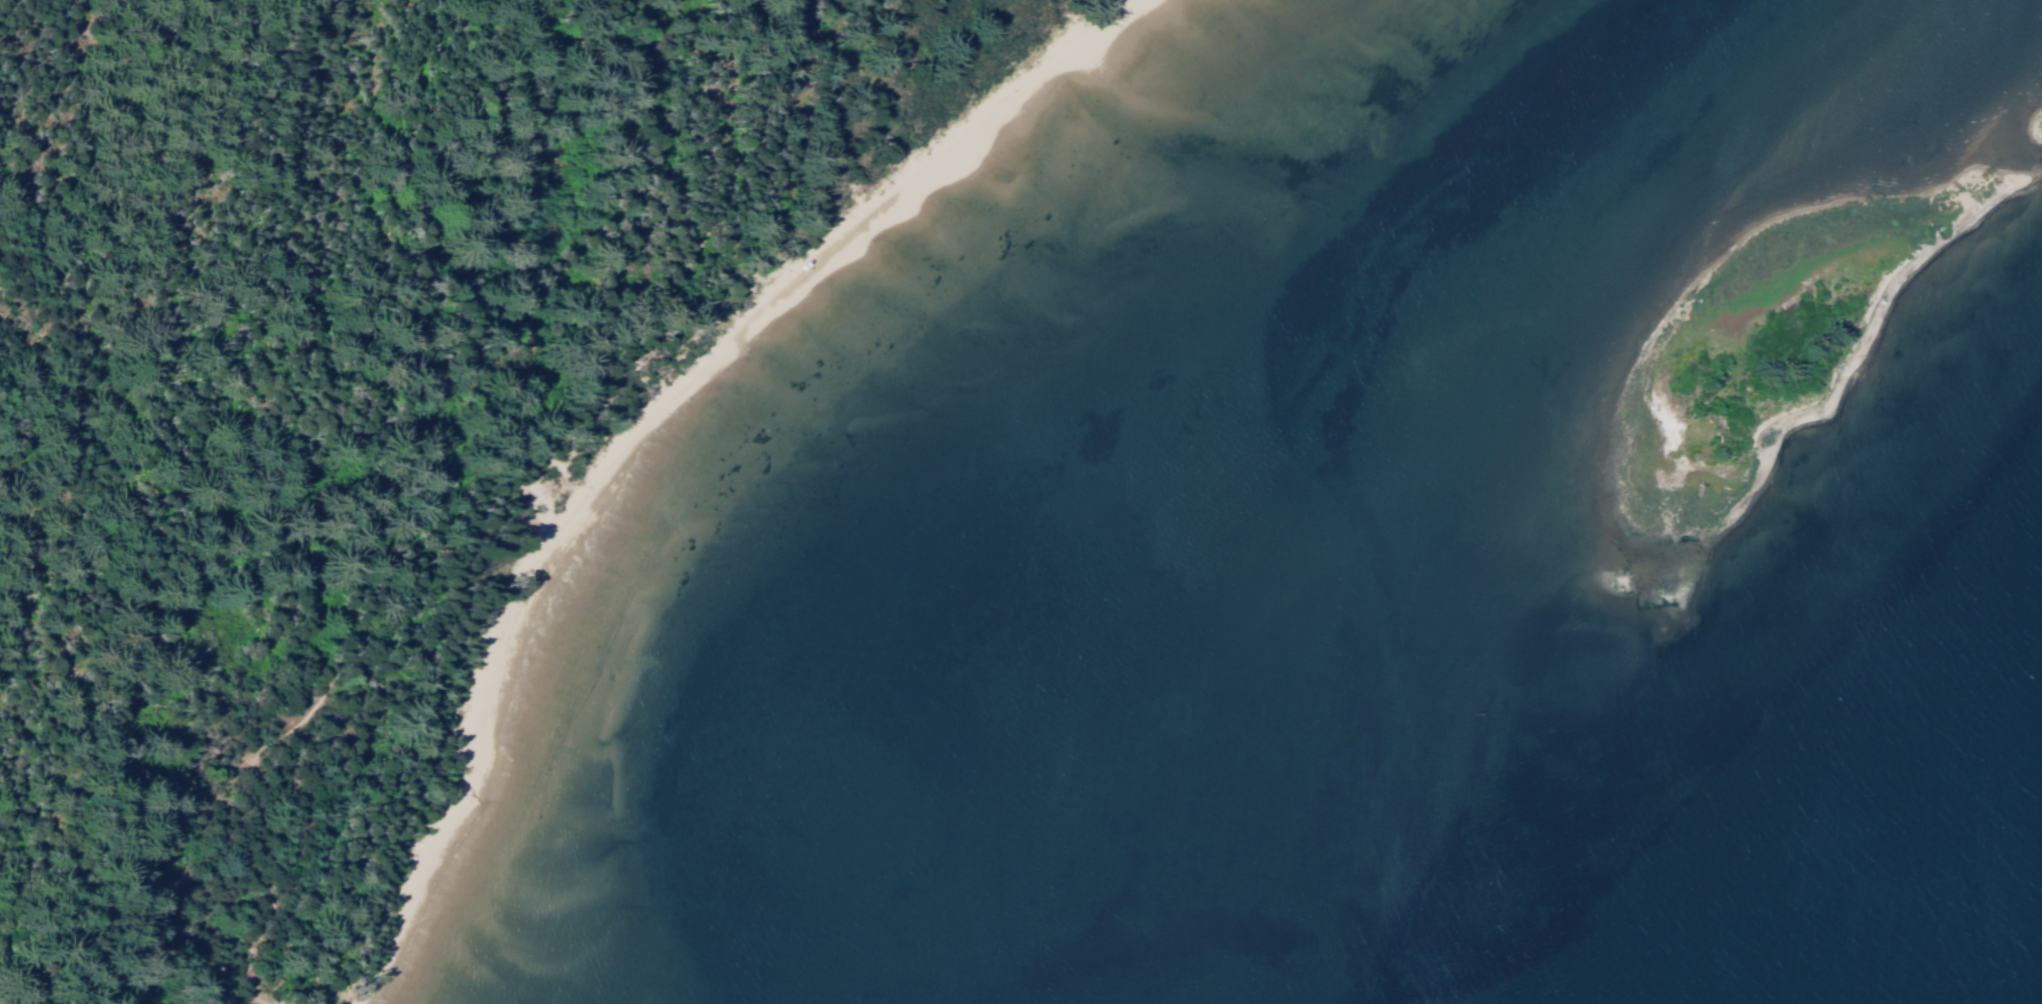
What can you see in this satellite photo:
road: (504, 528)

